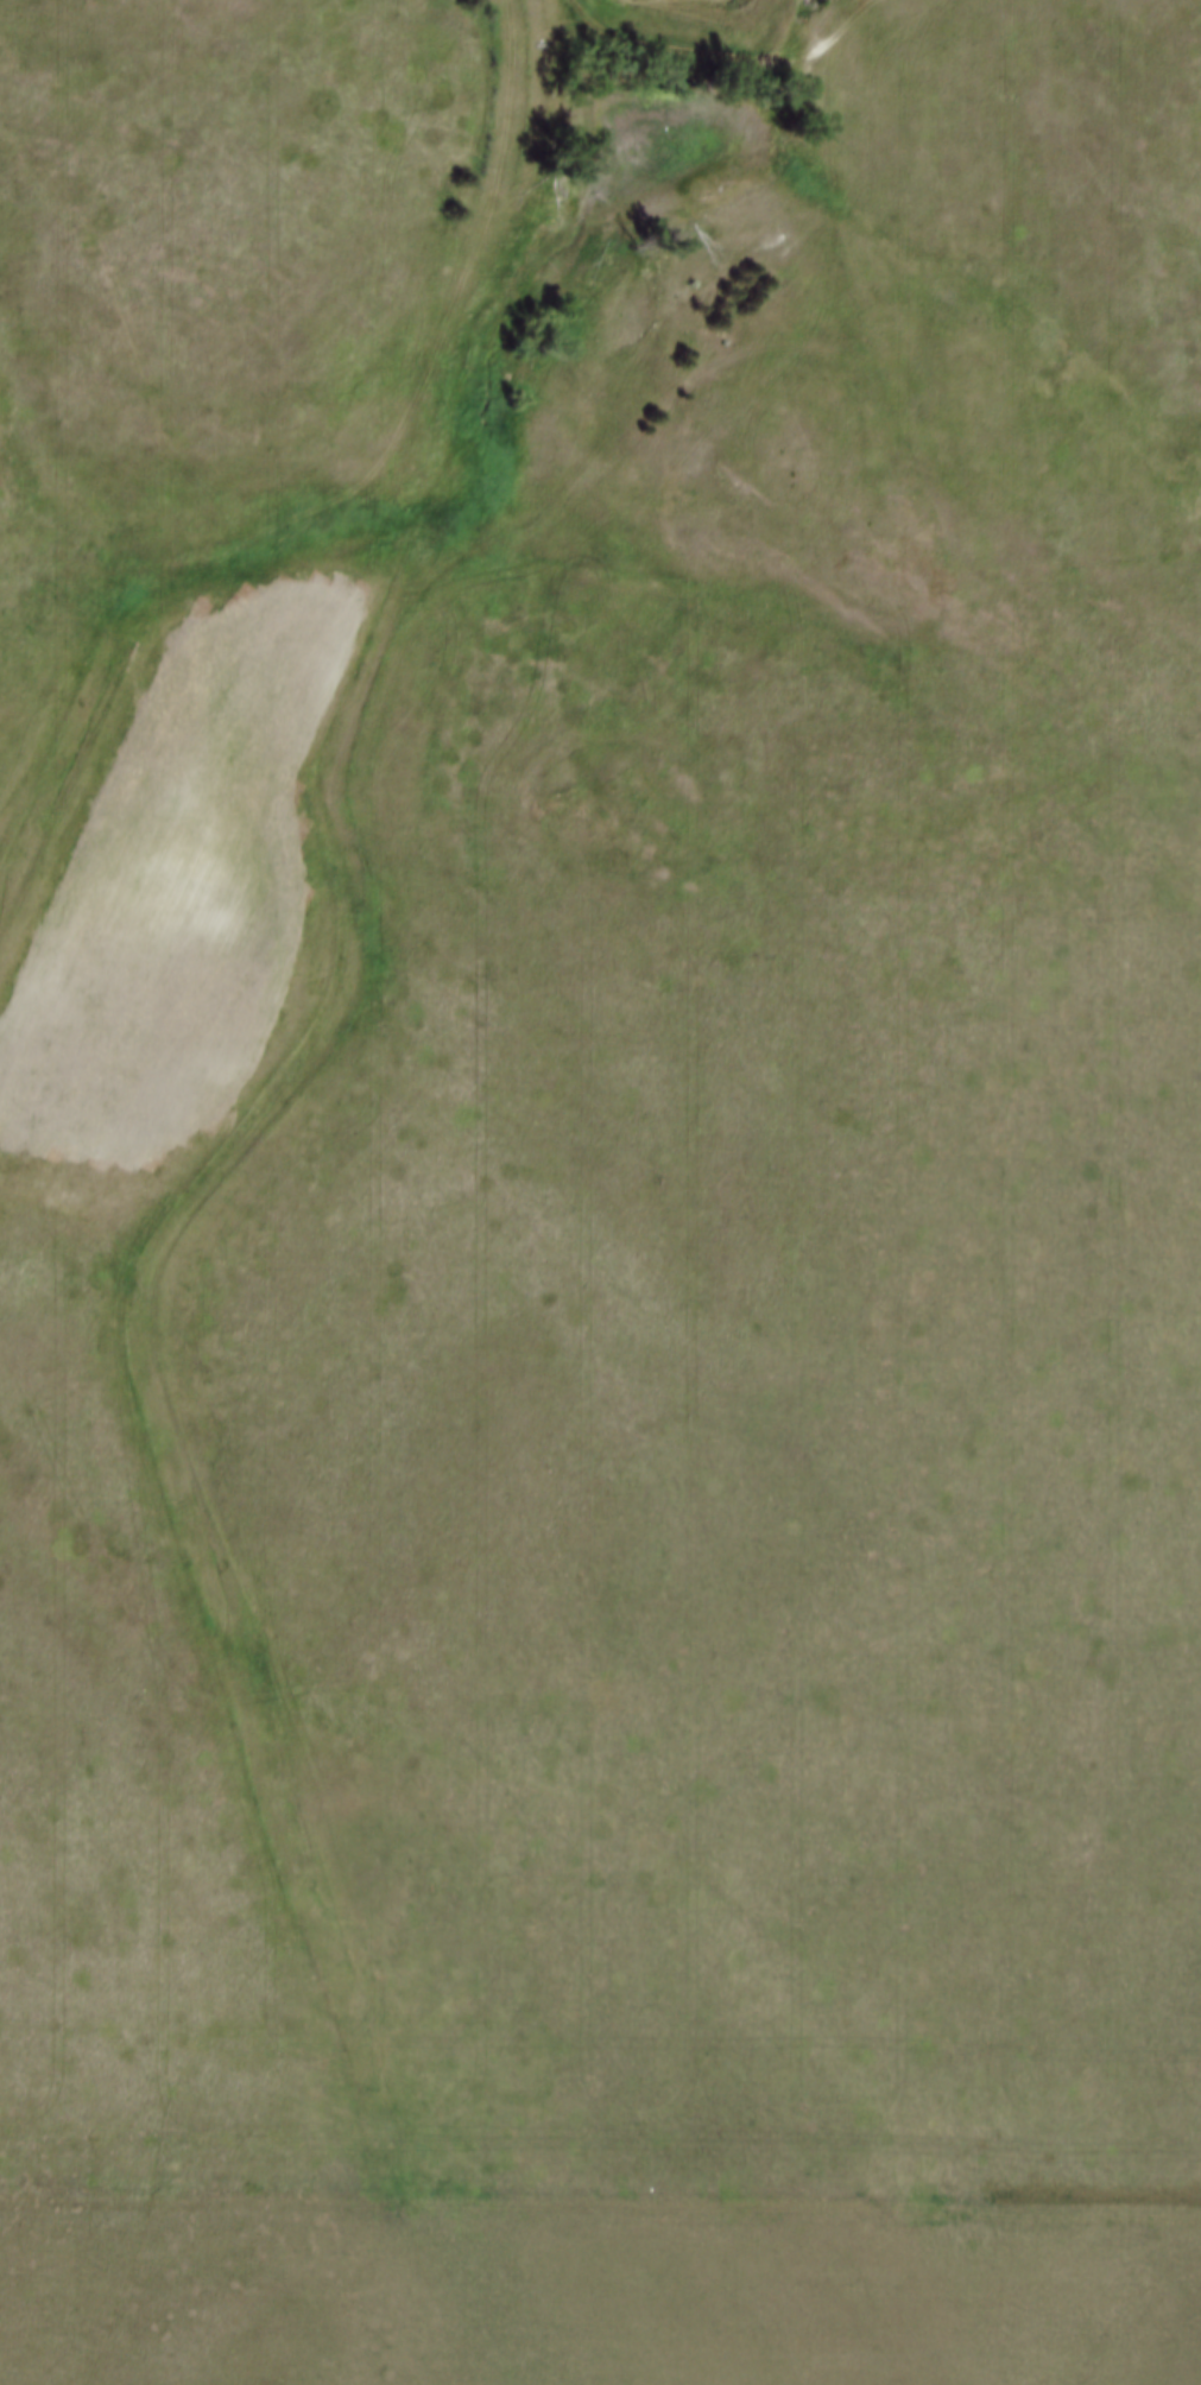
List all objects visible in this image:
road: (732, 63)
road: (25, 523)

